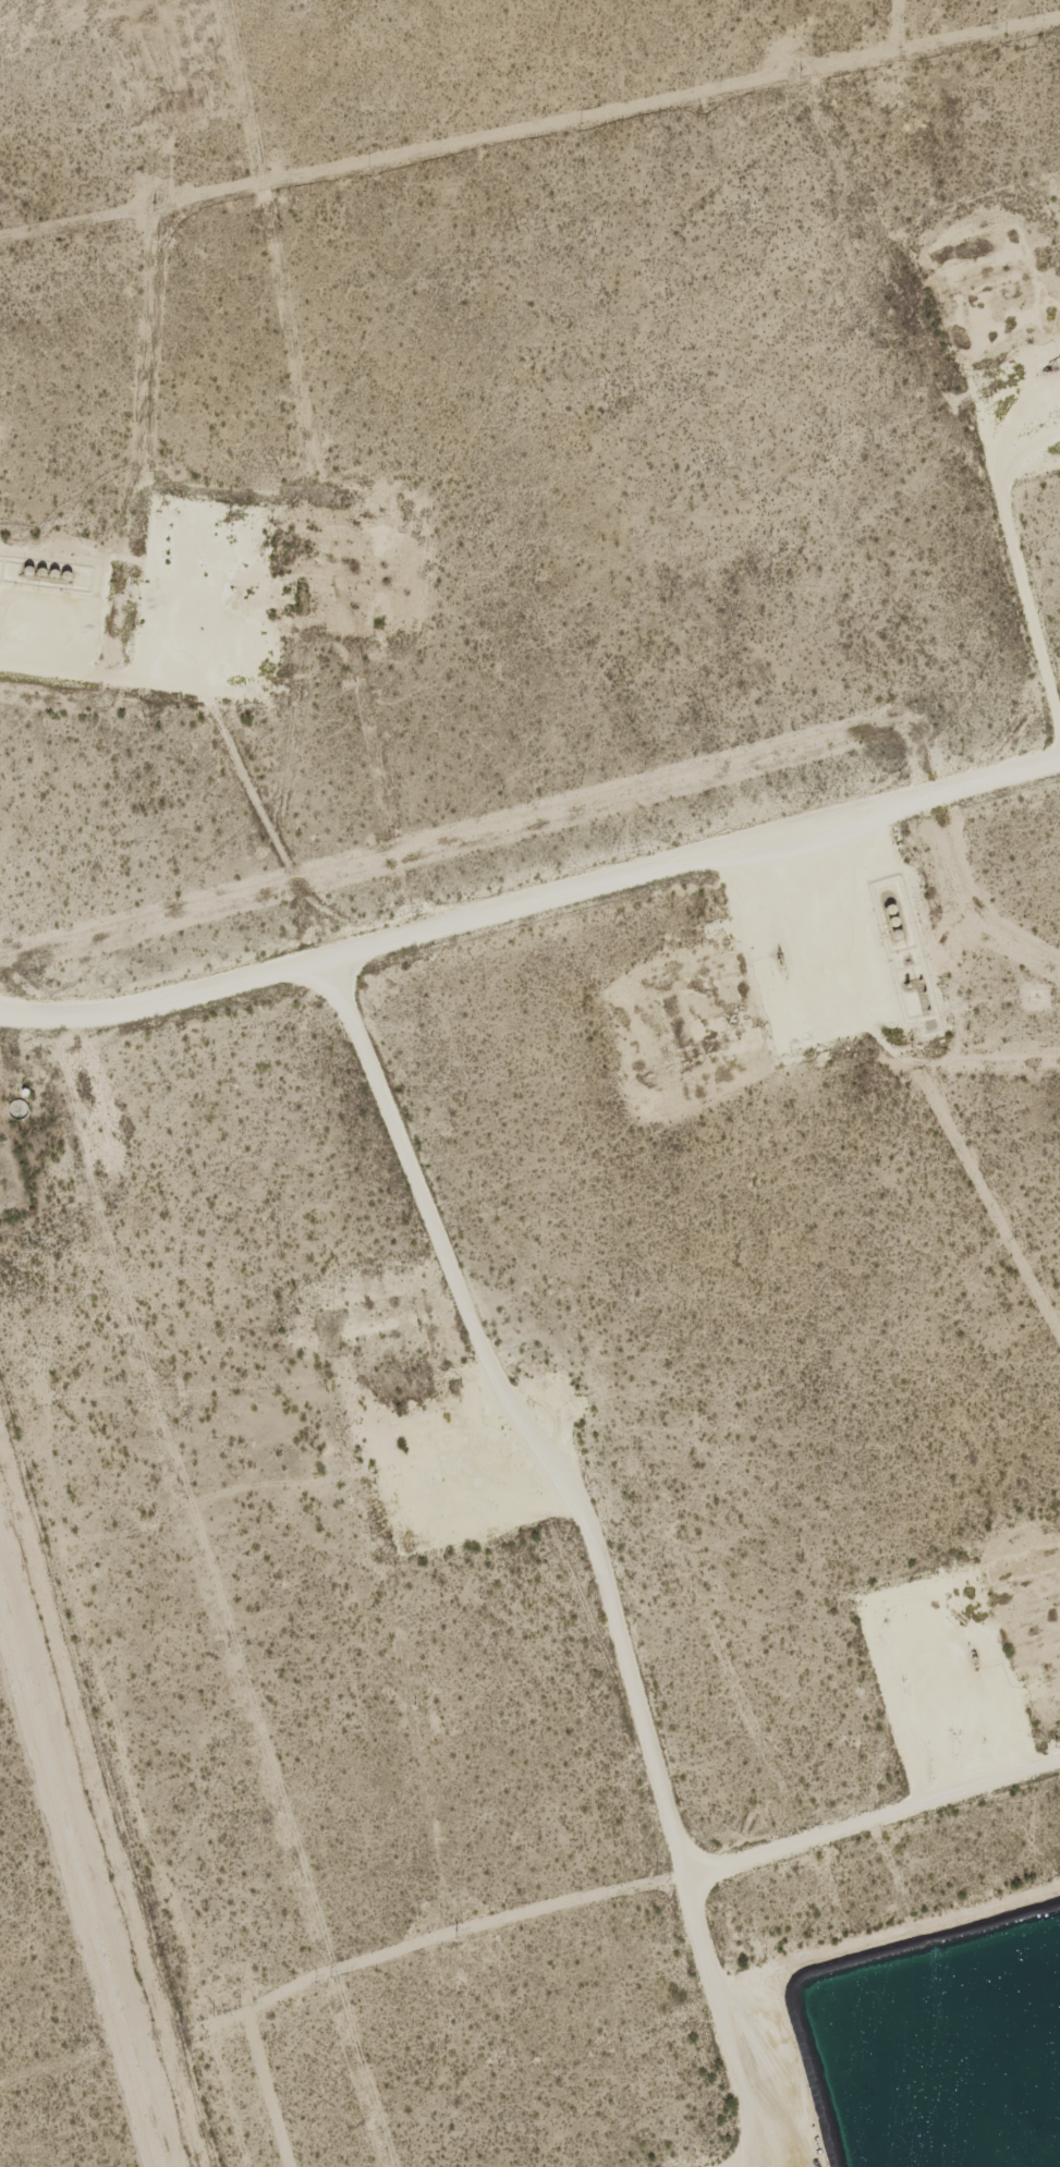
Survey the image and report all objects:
road: (532, 876)
petroleum well: (399, 1444)
road: (601, 1575)
petroleum well: (976, 1660)

